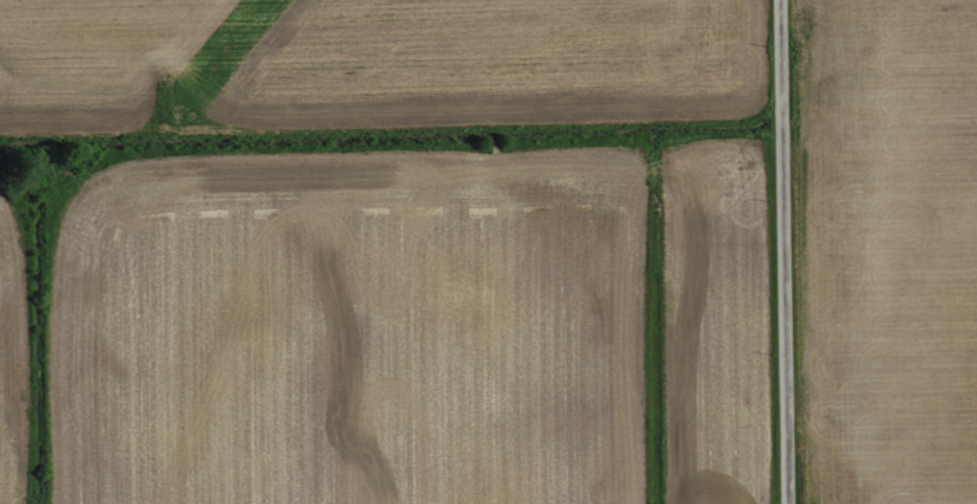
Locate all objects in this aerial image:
road: (782, 252)

